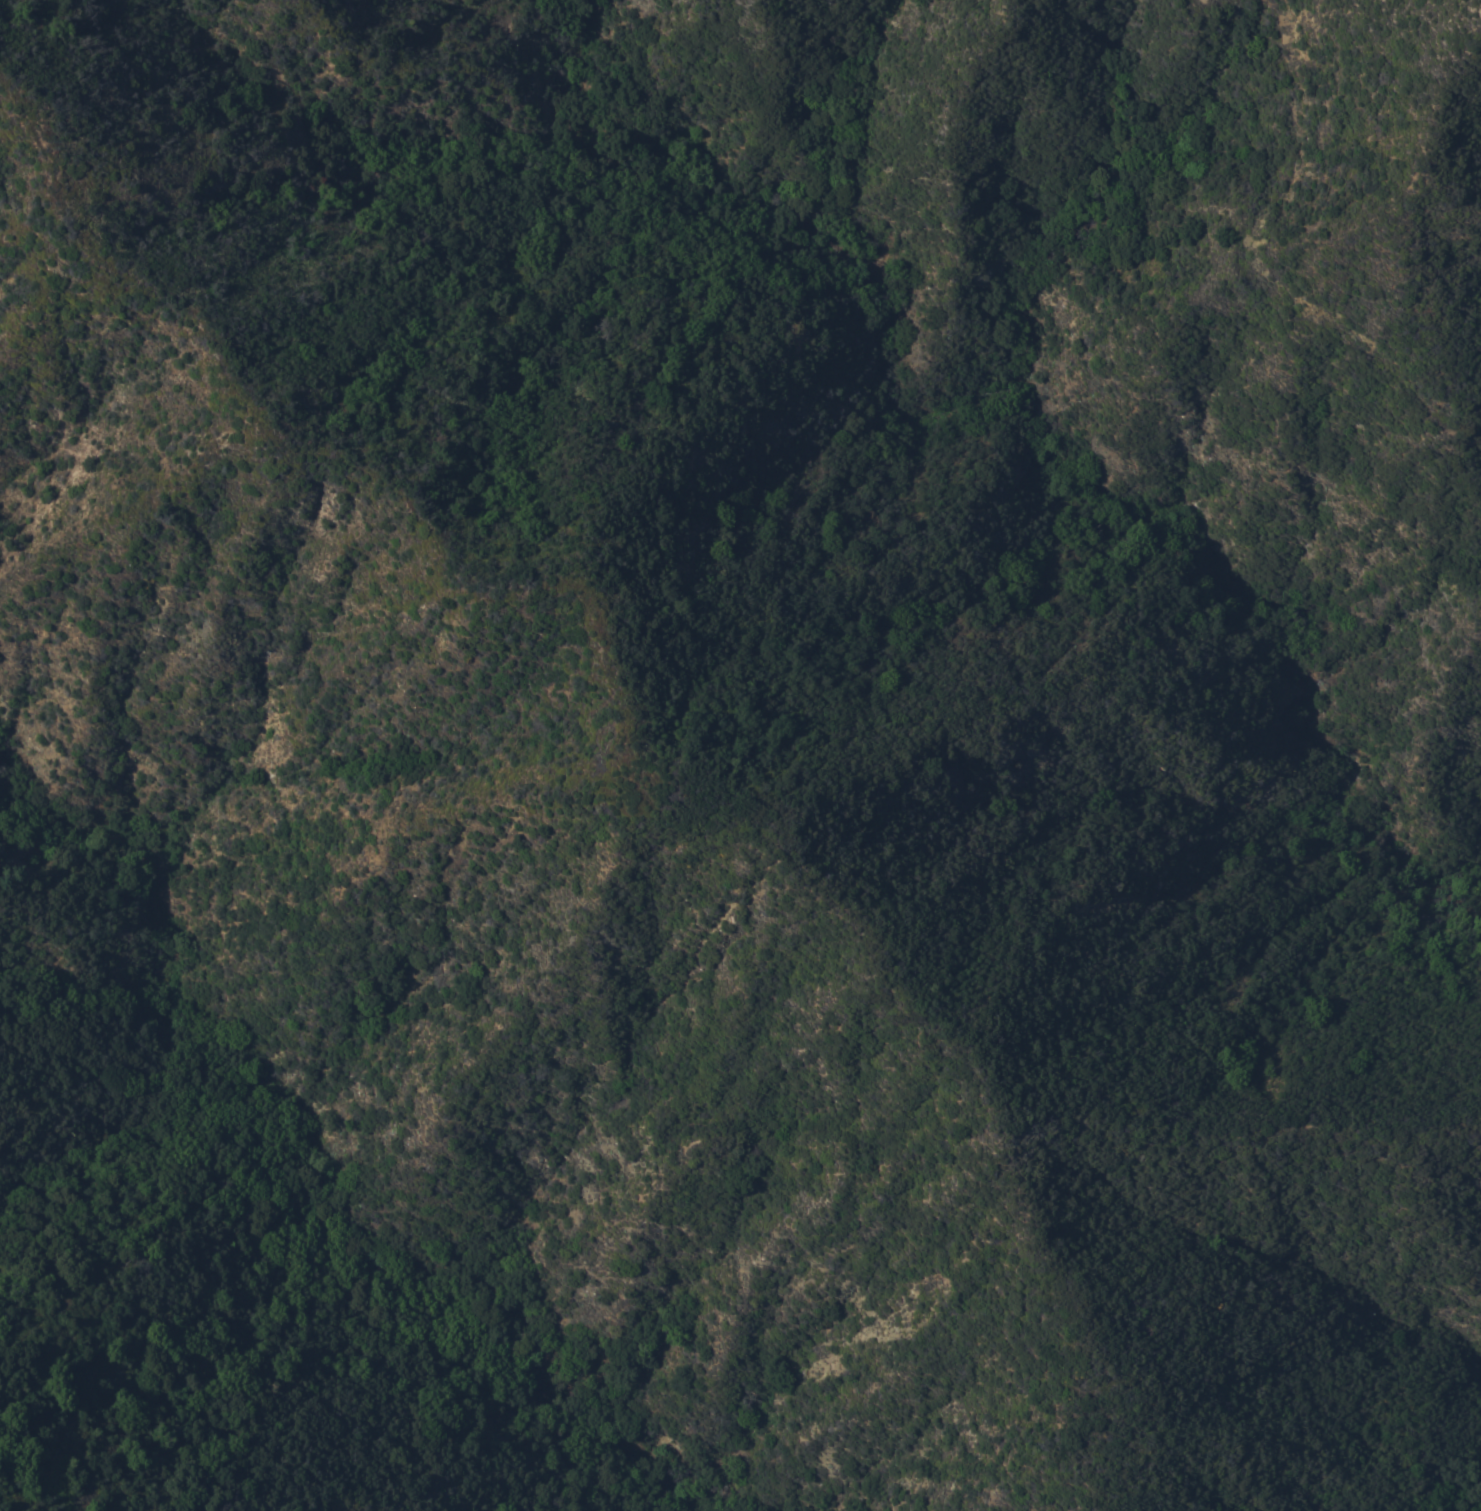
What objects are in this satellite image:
road: (1097, 49)
road: (1309, 204)

